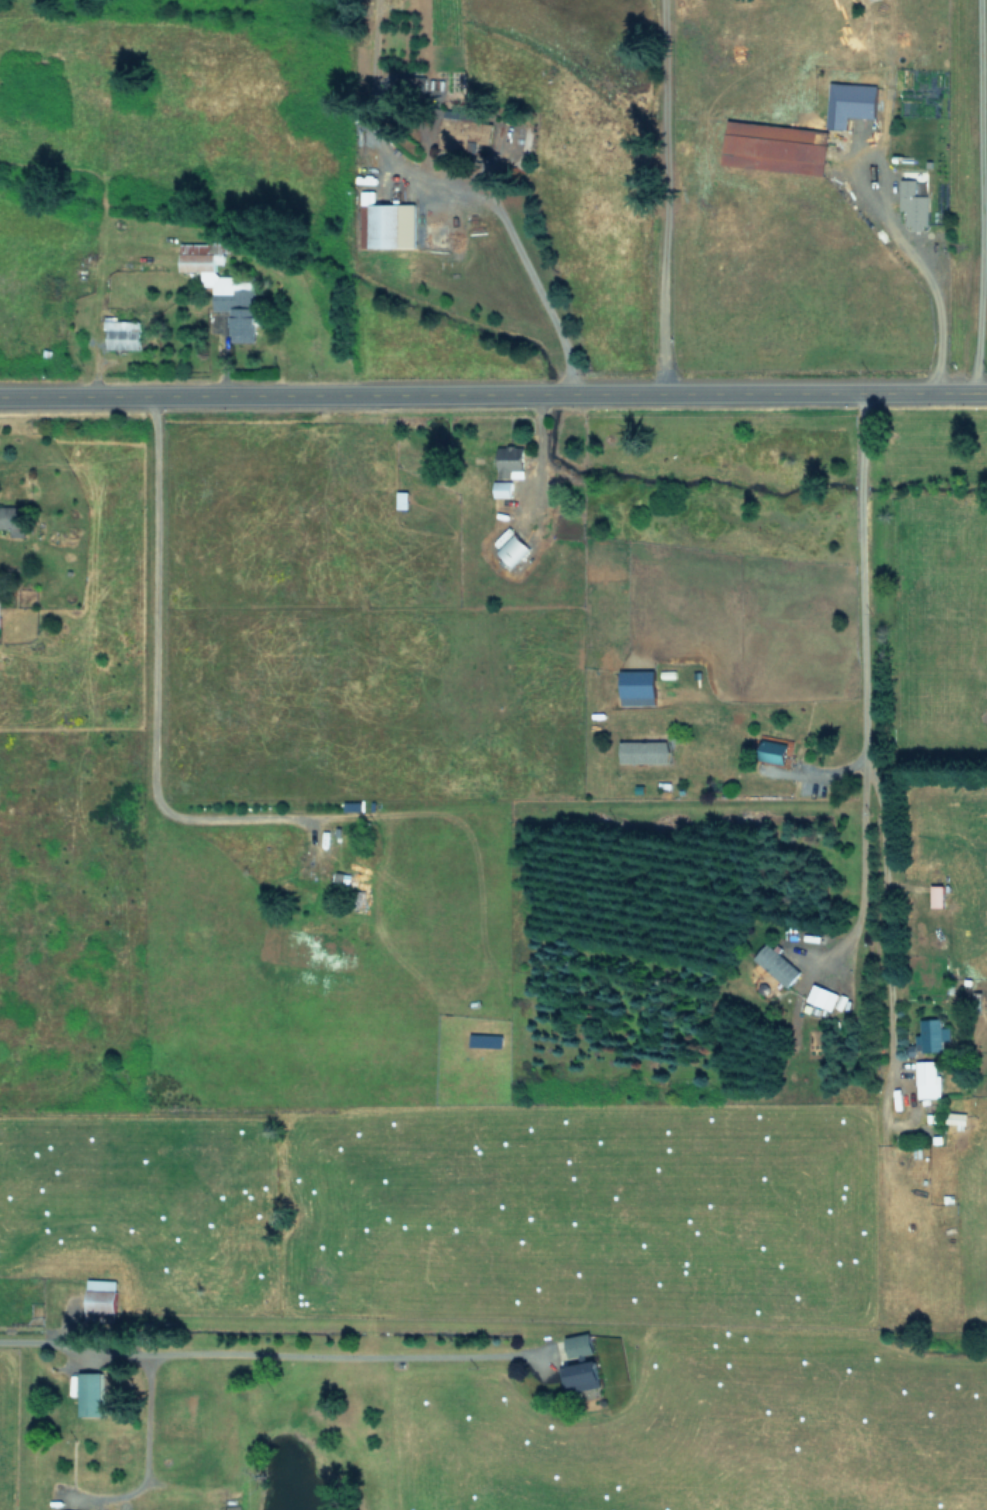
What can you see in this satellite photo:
building: (849, 102)
building: (461, 126)
building: (774, 146)
road: (659, 195)
road: (978, 195)
building: (912, 204)
building: (388, 223)
road: (521, 264)
road: (914, 268)
building: (222, 289)
building: (122, 334)
road: (493, 391)
building: (515, 461)
building: (501, 487)
building: (11, 520)
building: (511, 548)
road: (855, 672)
building: (635, 682)
building: (643, 750)
building: (771, 750)
building: (936, 895)
building: (775, 963)
building: (821, 996)
building: (931, 1034)
building: (927, 1078)
building: (99, 1295)
road: (252, 1346)
building: (579, 1363)
building: (88, 1392)

